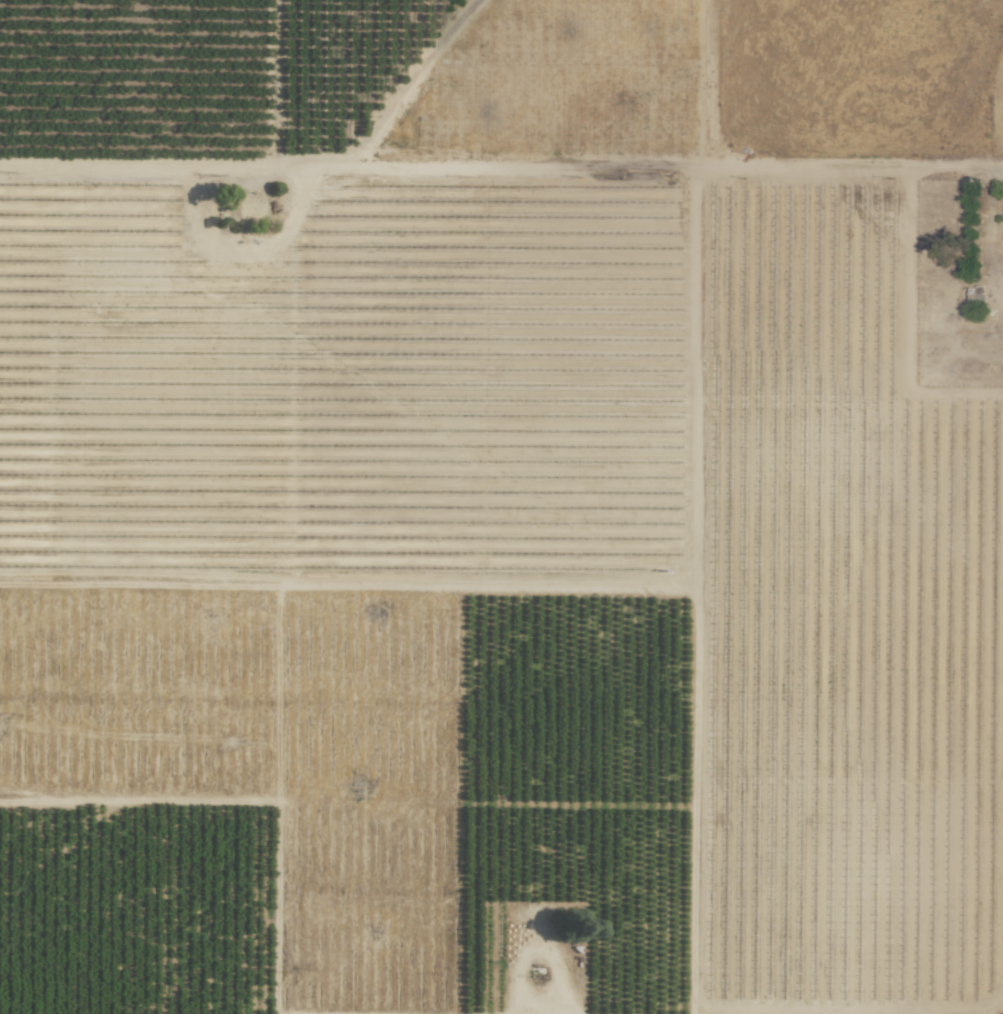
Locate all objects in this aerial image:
road: (465, 164)
road: (851, 164)
building: (252, 207)
road: (995, 1009)

